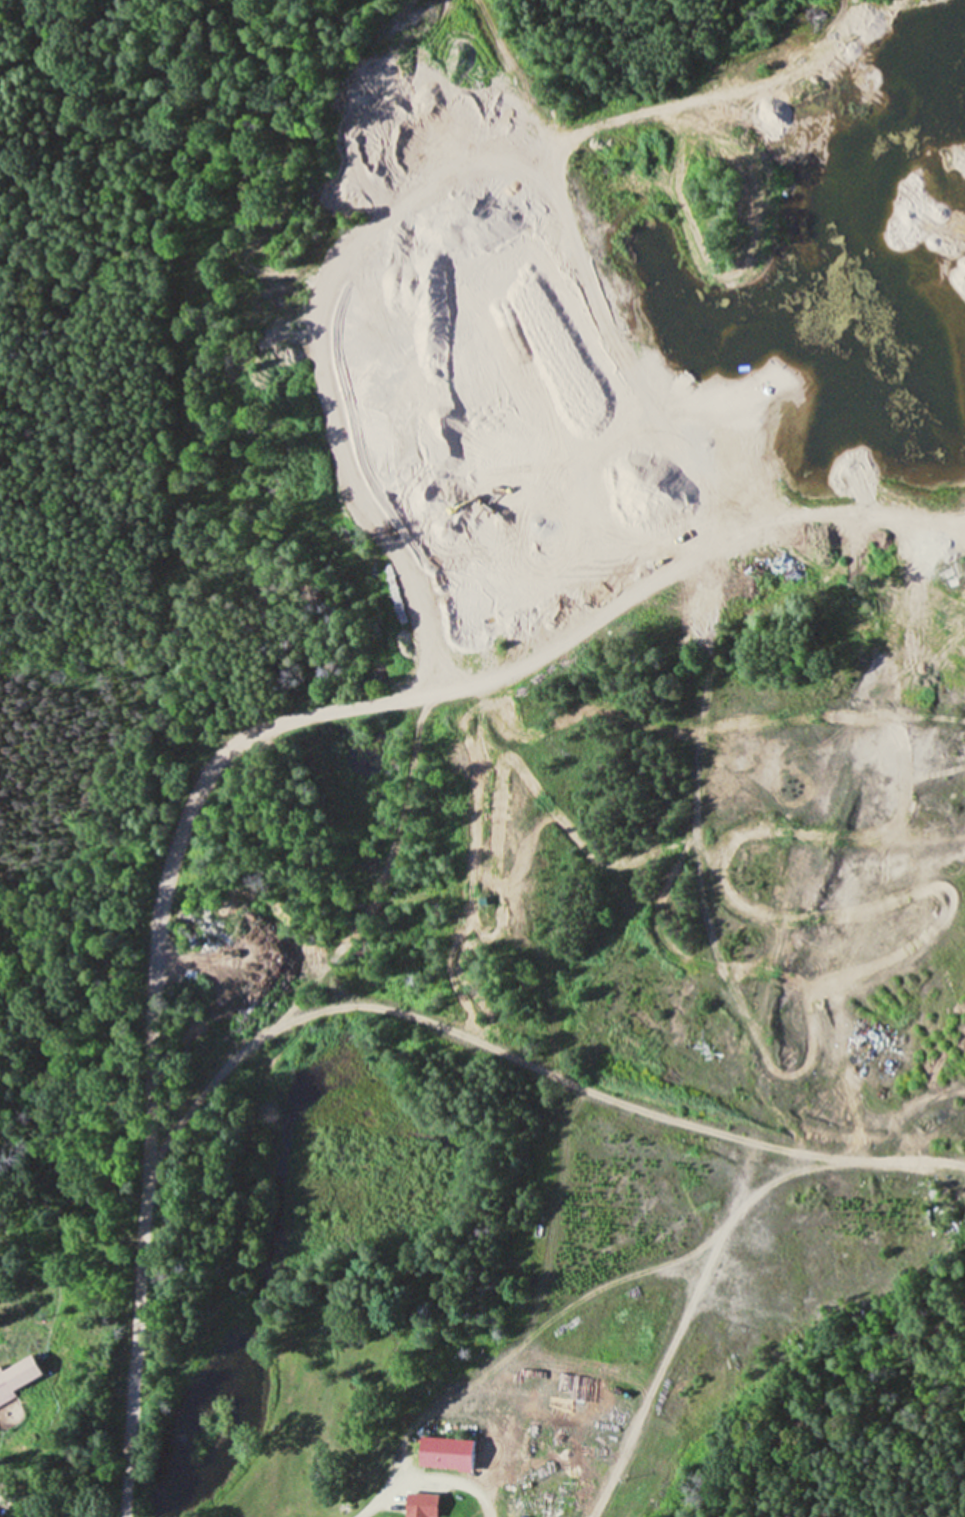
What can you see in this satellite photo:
road: (956, 523)
road: (956, 528)
quarry: (584, 700)
road: (225, 757)
road: (694, 784)
road: (621, 889)
road: (761, 1019)
road: (519, 1341)
building: (24, 1379)
building: (440, 1454)
road: (427, 1481)
building: (418, 1516)

